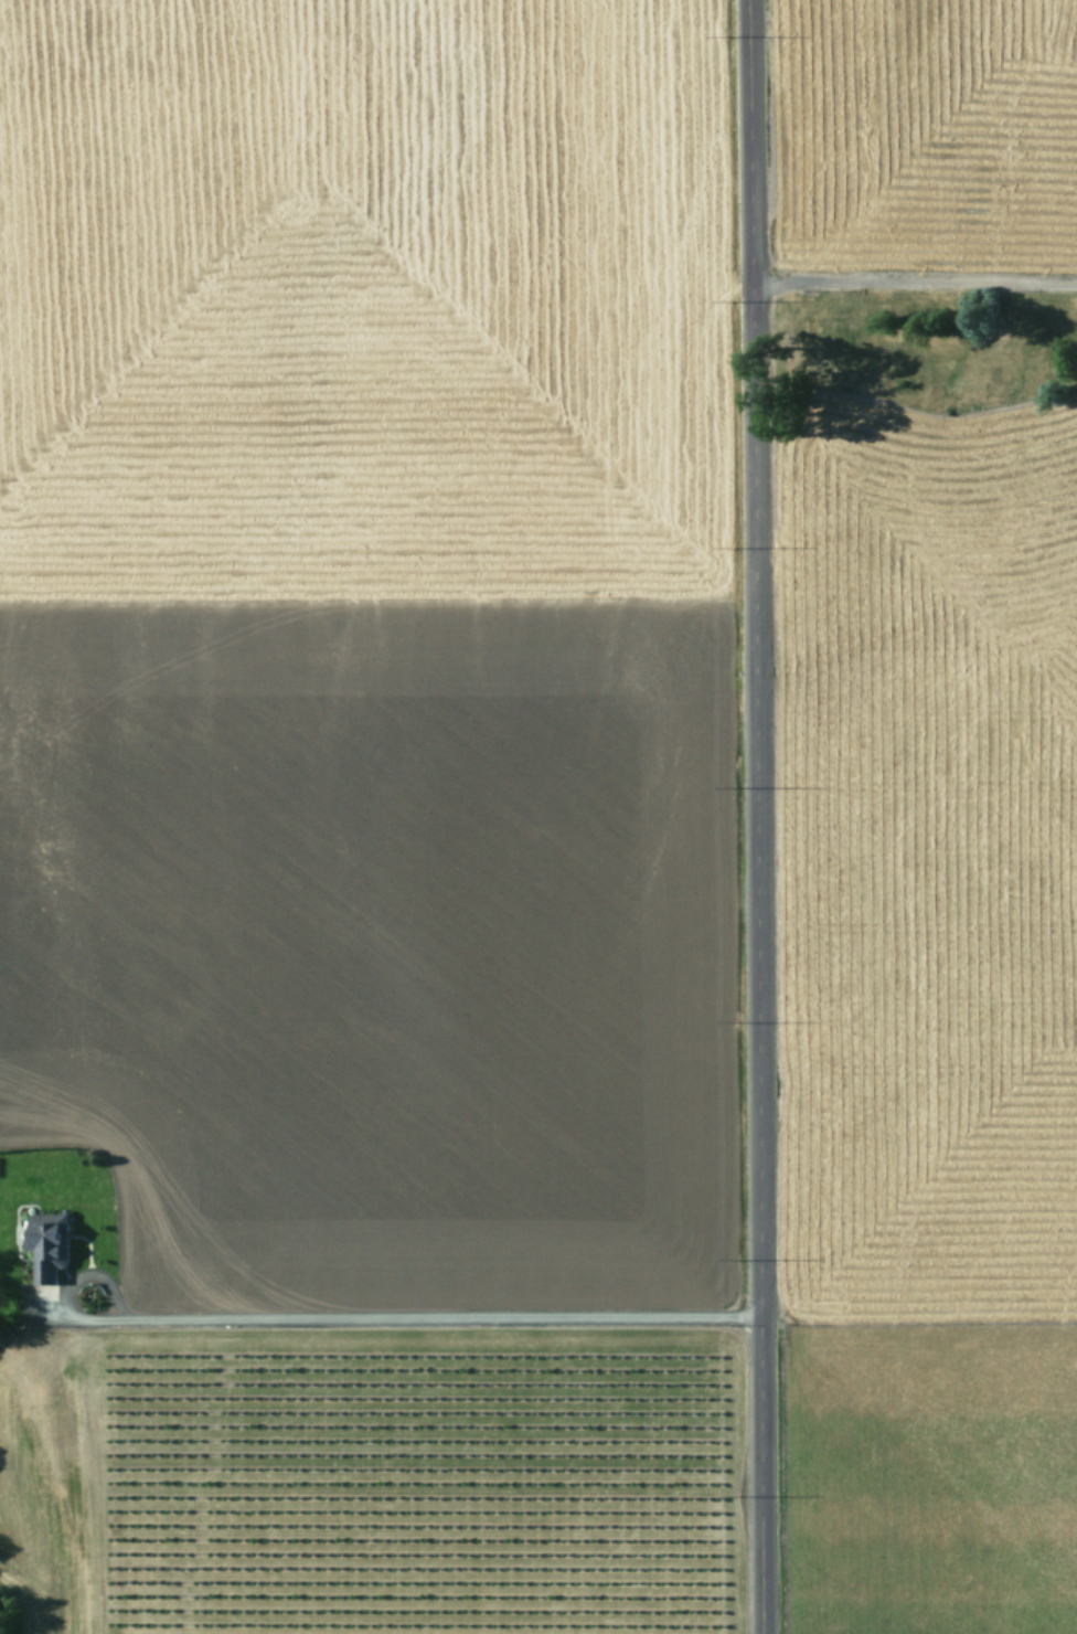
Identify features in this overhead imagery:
crop: (542, 811)
road: (755, 816)
road: (422, 1320)

